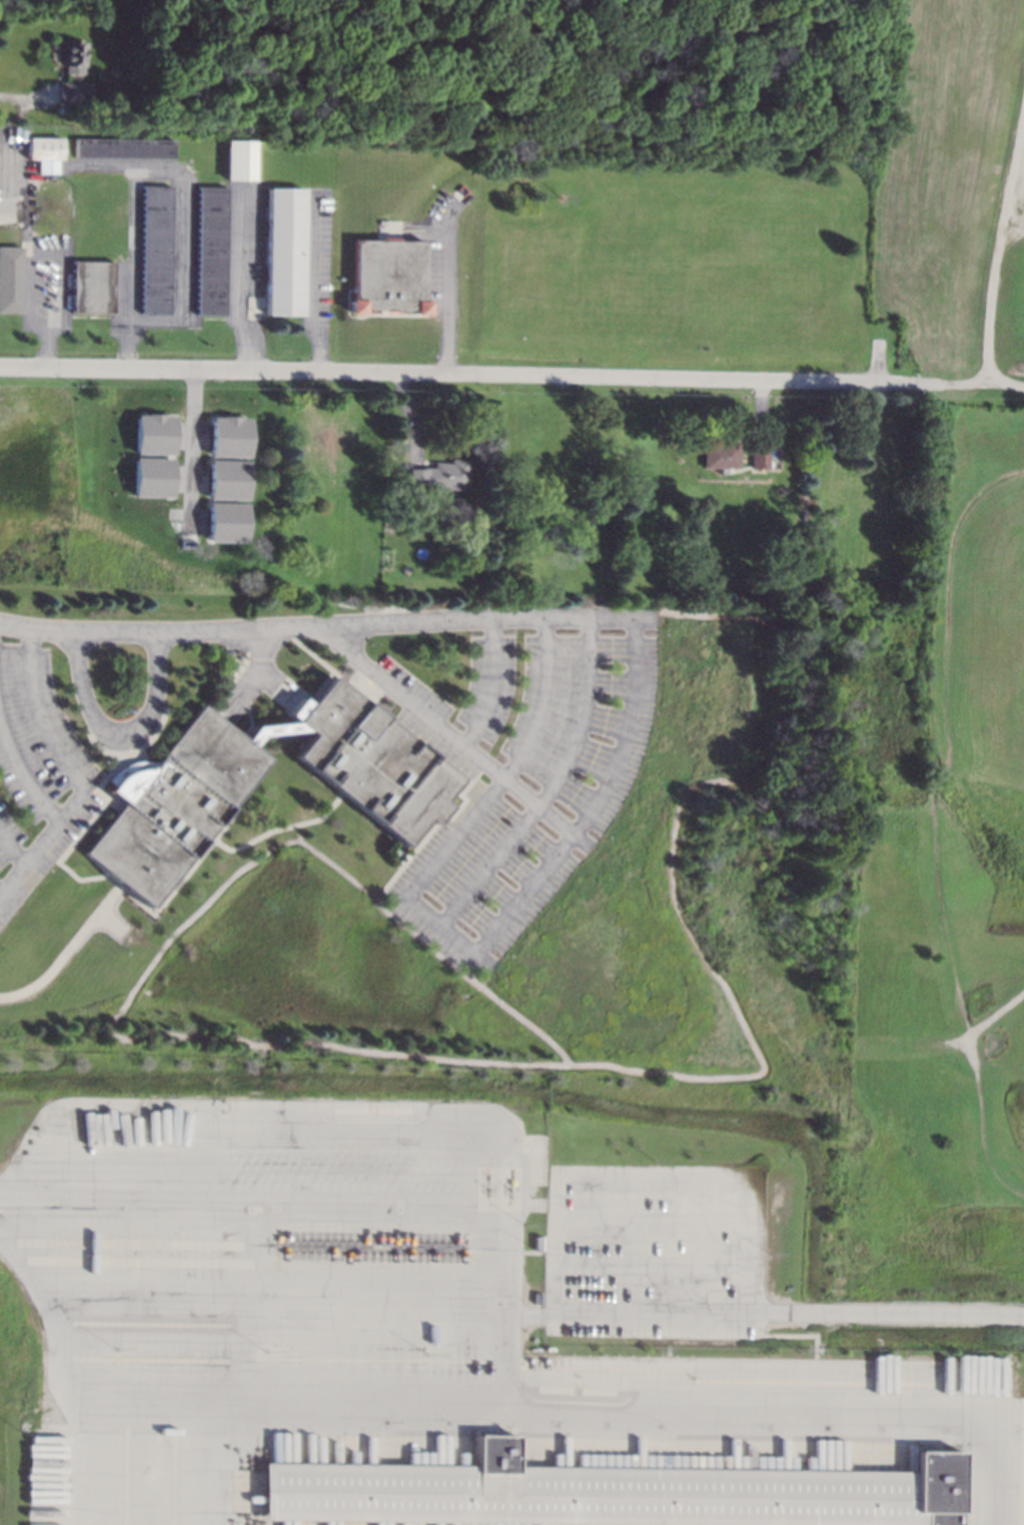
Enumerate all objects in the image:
building: (70, 57)
building: (72, 92)
road: (17, 100)
building: (122, 147)
building: (43, 153)
building: (239, 160)
road: (162, 172)
road: (3, 209)
road: (1002, 248)
building: (155, 249)
building: (211, 250)
road: (47, 251)
building: (285, 251)
building: (389, 277)
building: (10, 279)
road: (238, 281)
road: (312, 283)
building: (91, 287)
road: (447, 294)
road: (47, 348)
road: (493, 374)
road: (1005, 385)
building: (152, 434)
building: (228, 437)
road: (191, 439)
building: (720, 454)
building: (758, 456)
building: (437, 475)
building: (151, 477)
building: (227, 479)
building: (803, 516)
building: (226, 522)
building: (804, 526)
road: (324, 624)
building: (227, 654)
road: (491, 684)
road: (124, 737)
road: (23, 772)
road: (74, 775)
parking lot: (521, 778)
parking lot: (37, 779)
building: (176, 784)
road: (554, 786)
road: (541, 802)
road: (934, 824)
road: (275, 829)
road: (15, 846)
road: (433, 868)
road: (2, 890)
road: (68, 951)
road: (988, 1027)
building: (537, 1243)
parking lot: (656, 1250)
building: (537, 1299)
road: (624, 1308)
road: (886, 1312)
road: (499, 1350)
building: (608, 1492)

